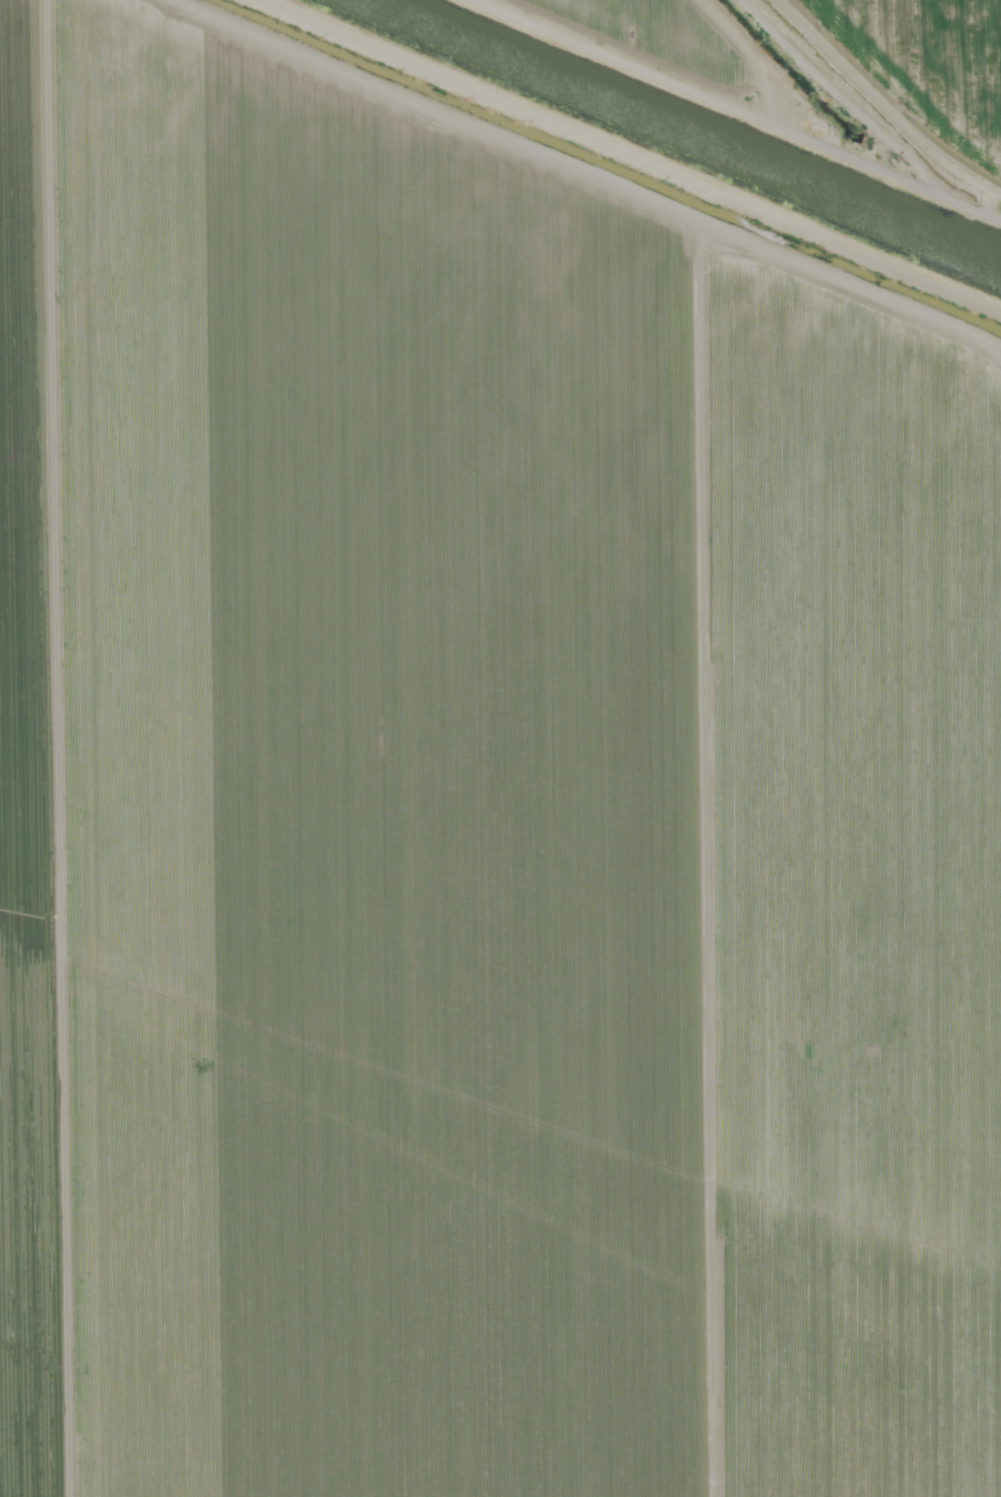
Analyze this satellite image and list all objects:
road: (778, 22)
crop: (839, 69)
road: (837, 75)
road: (520, 184)
crop: (476, 812)

